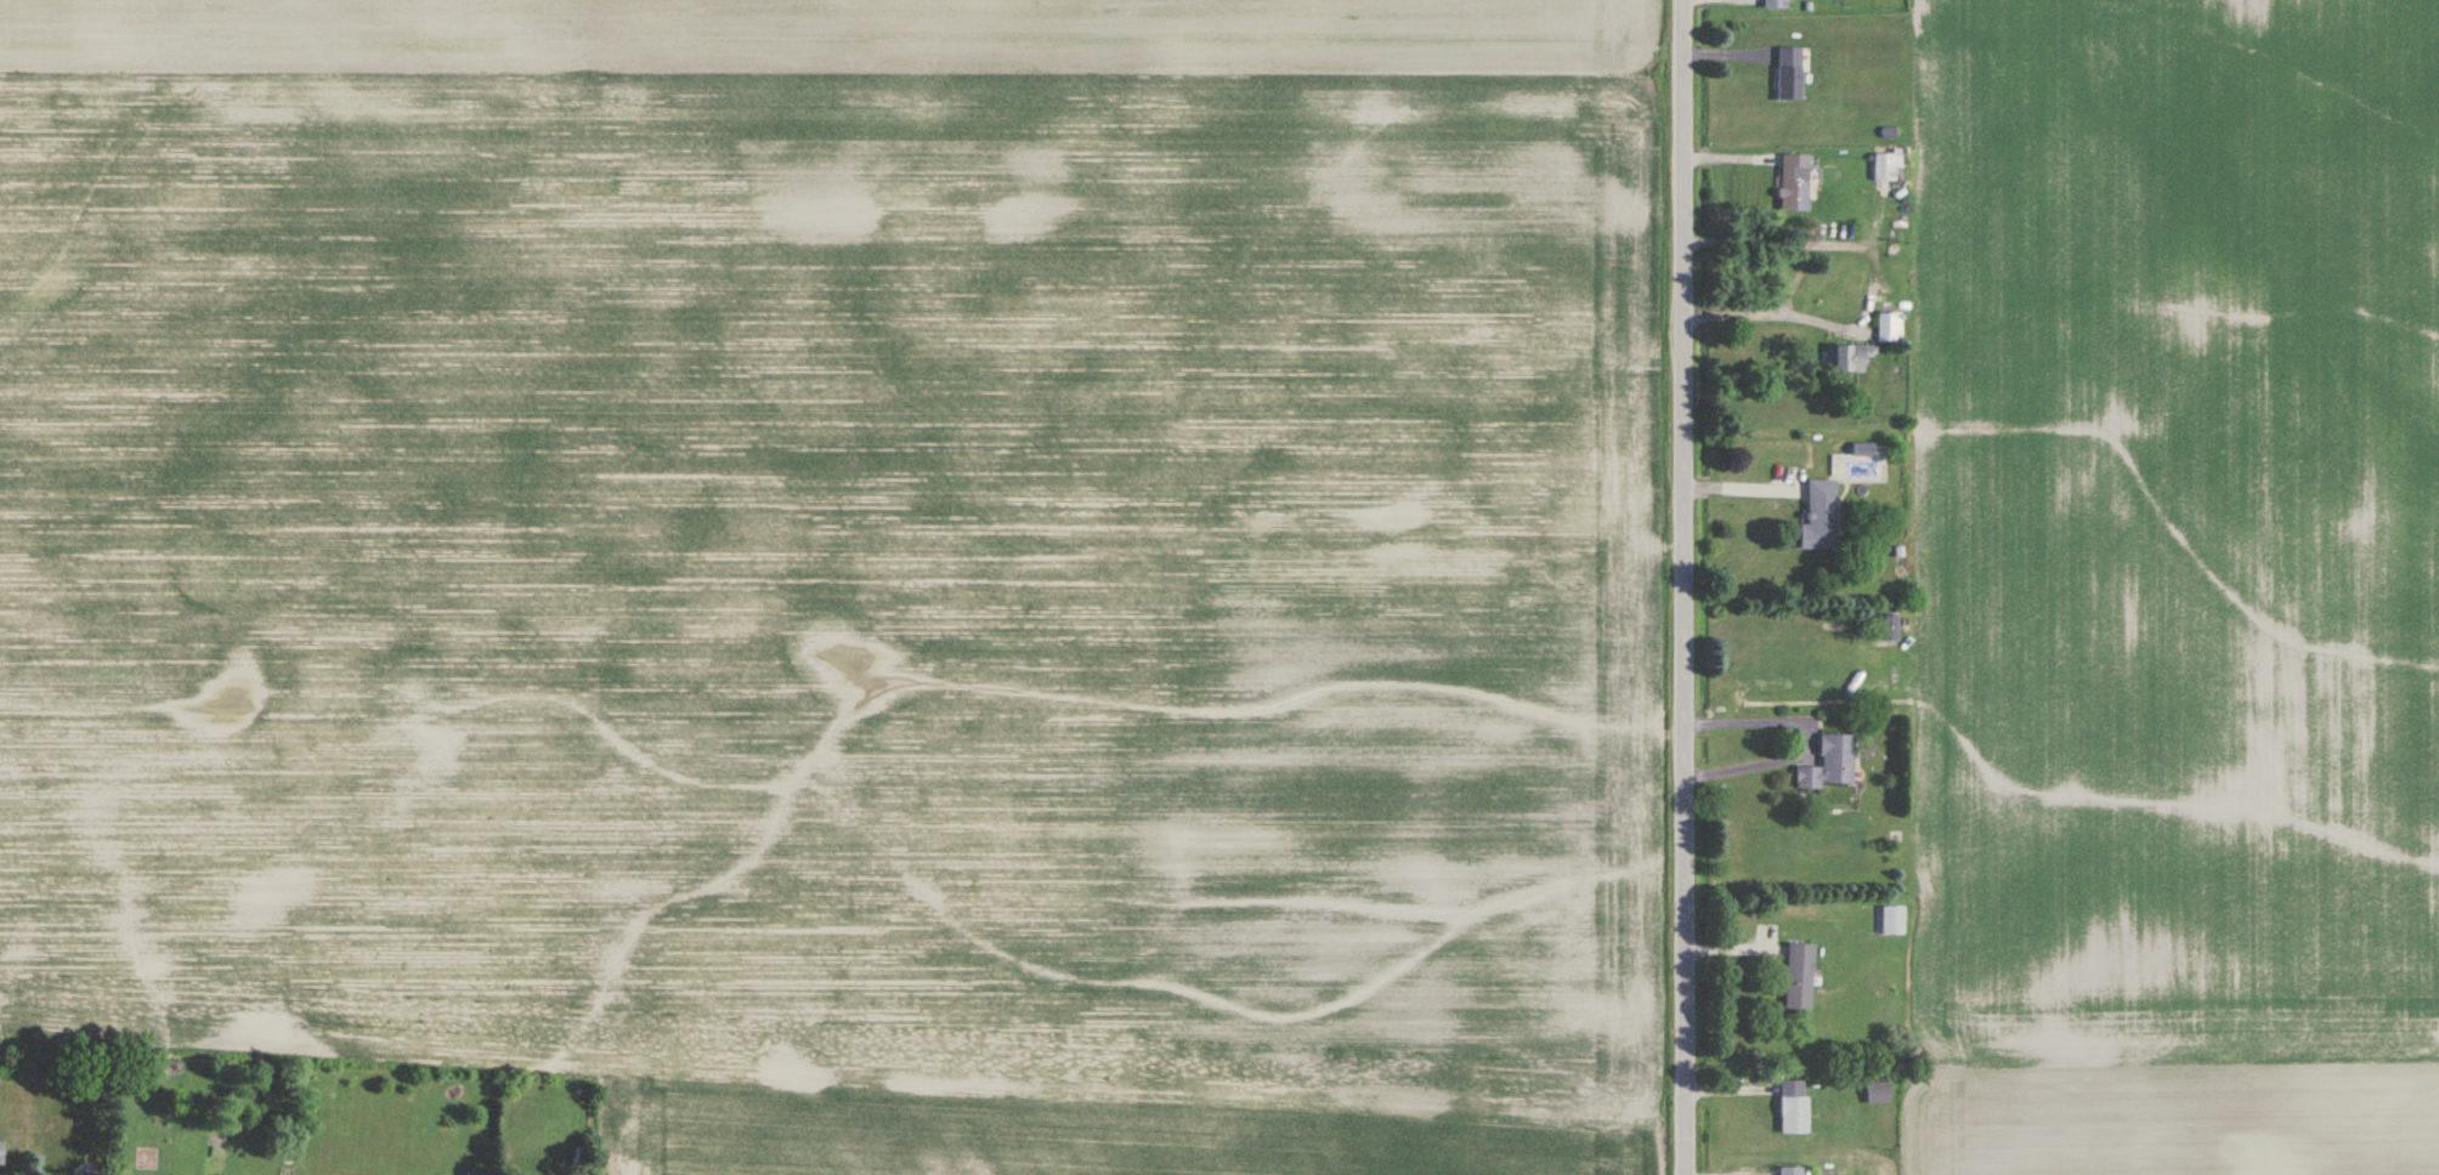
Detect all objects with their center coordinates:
building: (1773, 4)
building: (1789, 74)
building: (1888, 166)
building: (1794, 183)
road: (1792, 308)
building: (1890, 328)
building: (1849, 358)
building: (1829, 500)
road: (1679, 587)
building: (1888, 629)
road: (1801, 733)
building: (1830, 765)
building: (1891, 921)
building: (1799, 978)
building: (1878, 1094)
building: (1793, 1114)
building: (1, 1156)
building: (1793, 1170)
building: (89, 1174)

